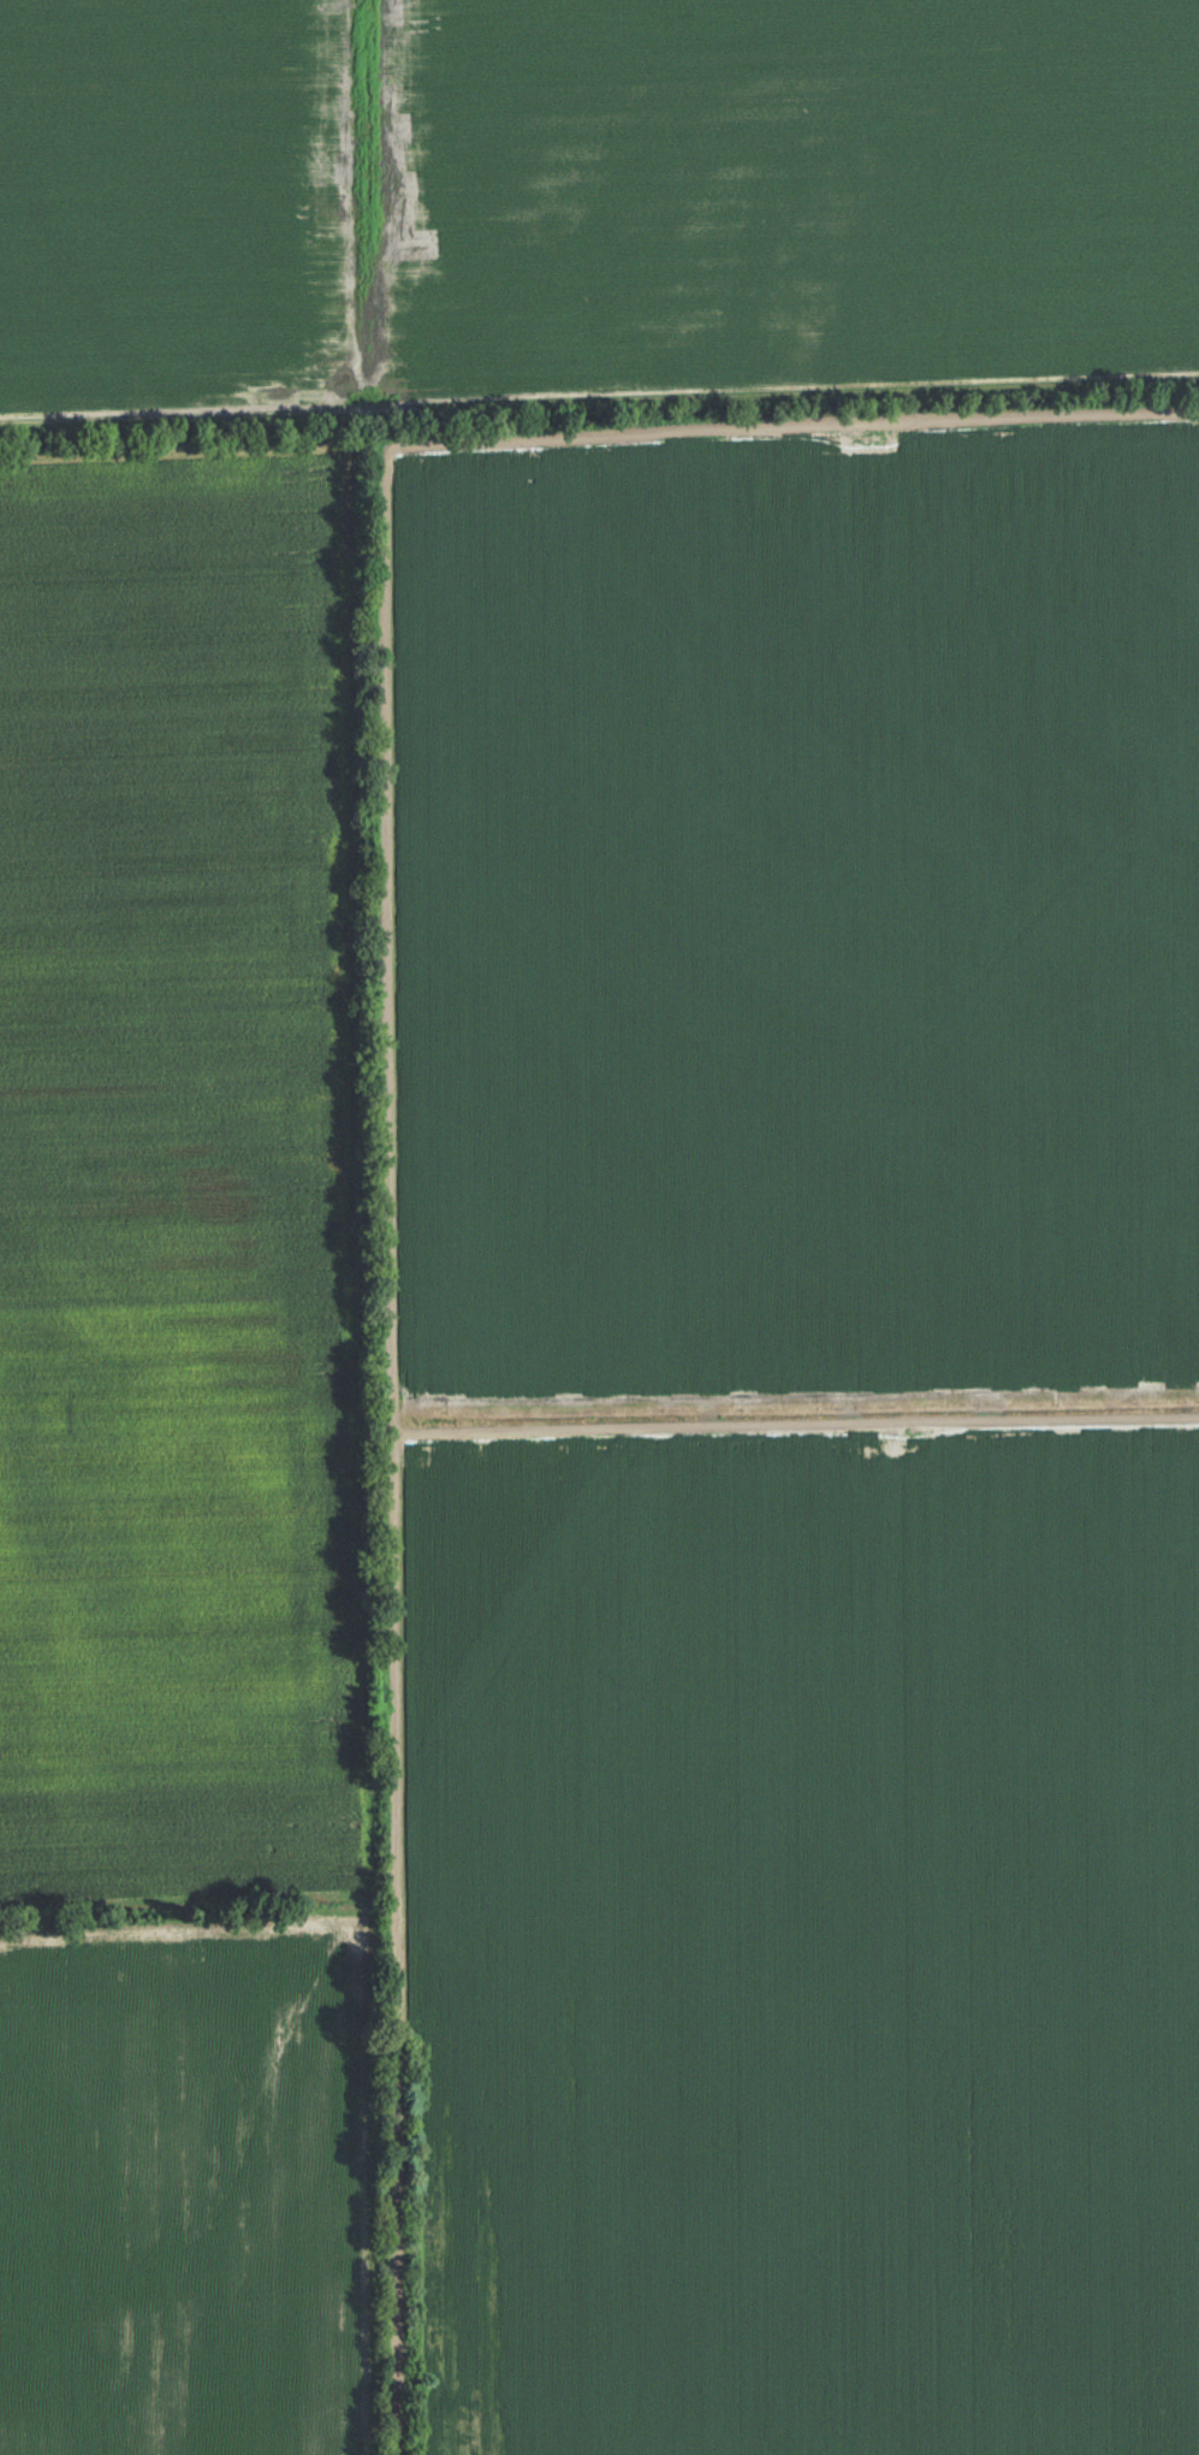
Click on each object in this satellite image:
road: (394, 1983)

